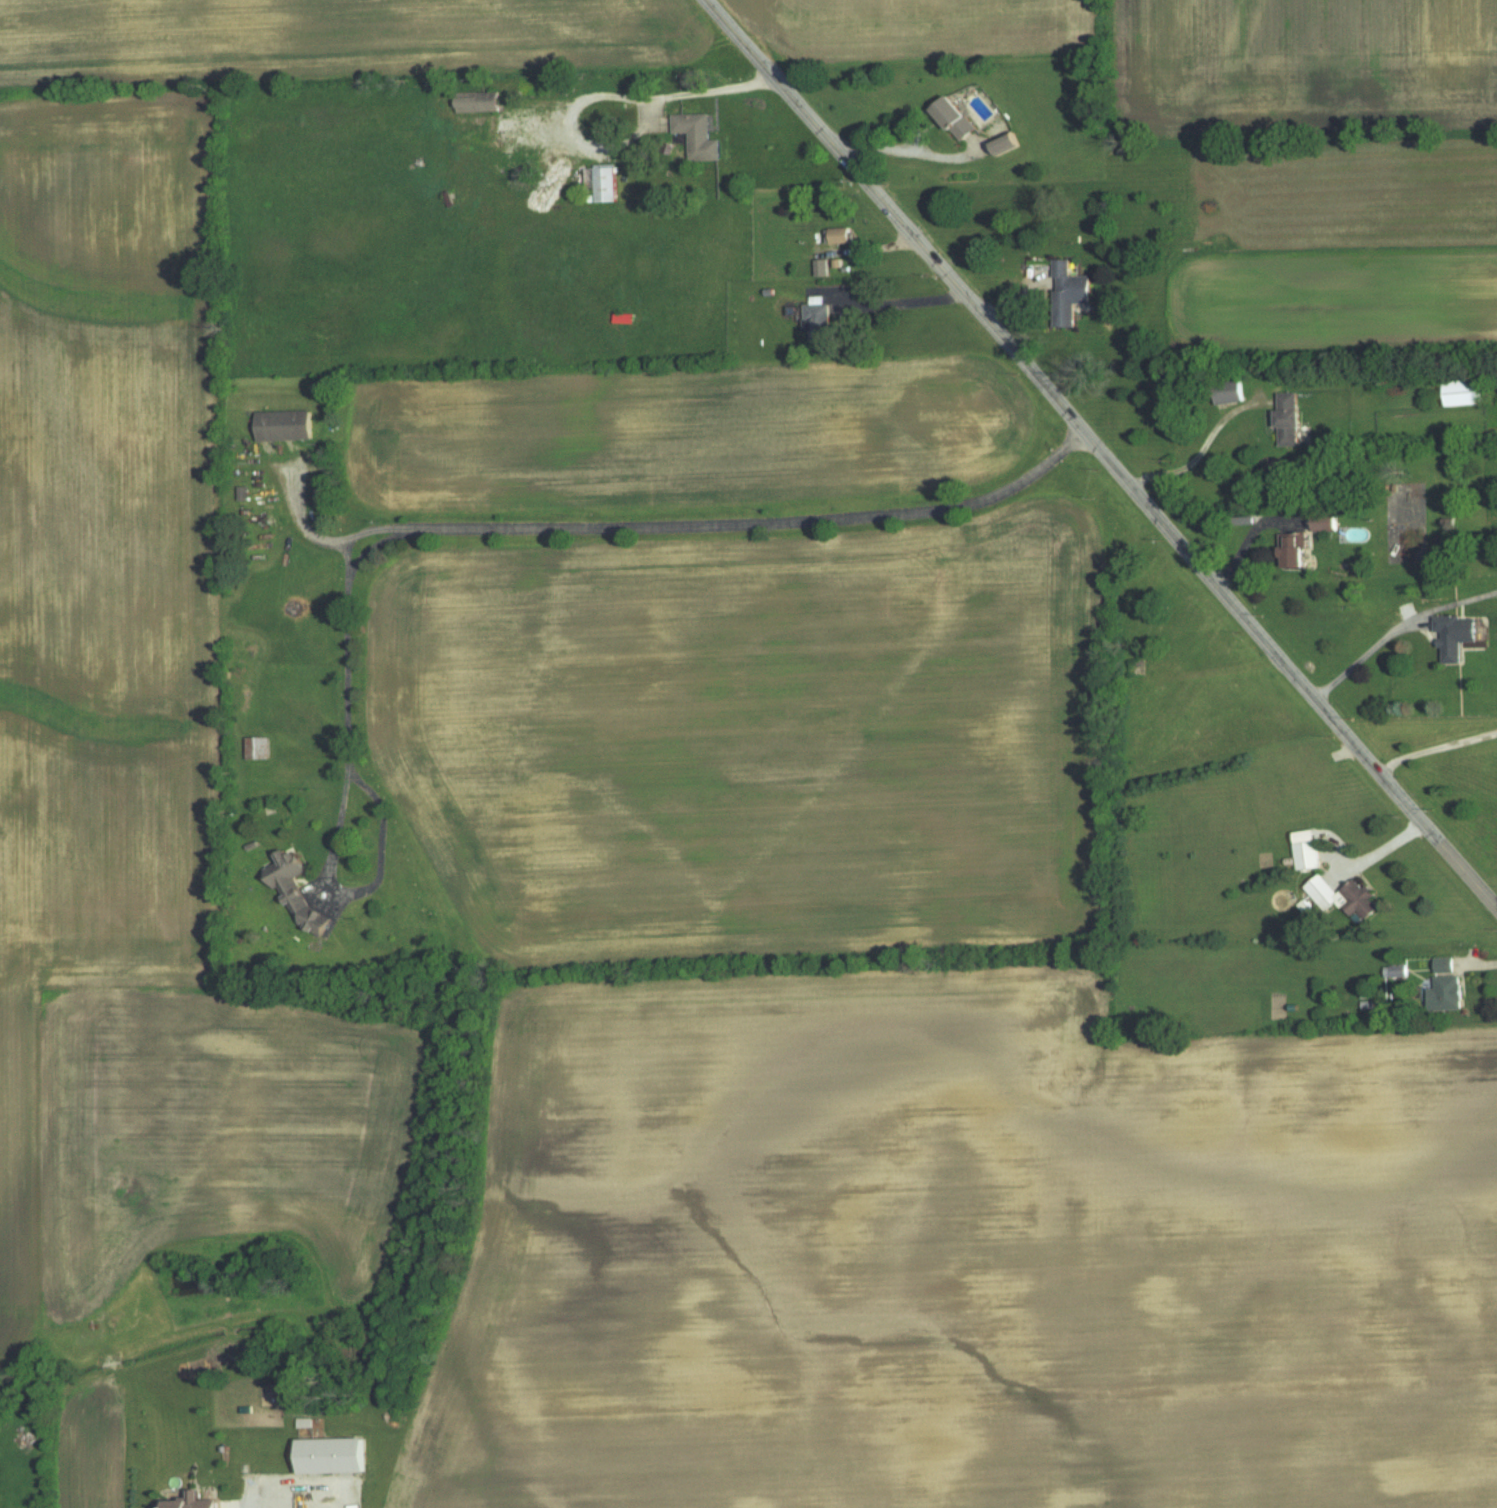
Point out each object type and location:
road: (606, 96)
building: (481, 103)
building: (956, 118)
building: (699, 136)
building: (1010, 143)
road: (907, 150)
building: (603, 184)
building: (840, 235)
building: (822, 268)
road: (902, 301)
building: (819, 324)
building: (1463, 393)
building: (1229, 394)
building: (1289, 421)
building: (284, 426)
road: (1103, 452)
road: (1199, 452)
building: (243, 495)
building: (1328, 523)
road: (632, 527)
road: (1247, 538)
building: (1295, 550)
building: (1456, 636)
road: (1365, 653)
building: (258, 747)
road: (1436, 749)
building: (1308, 852)
road: (340, 890)
building: (298, 891)
building: (1345, 896)
building: (1444, 964)
building: (1396, 971)
building: (1445, 992)
building: (336, 1455)
building: (193, 1502)

